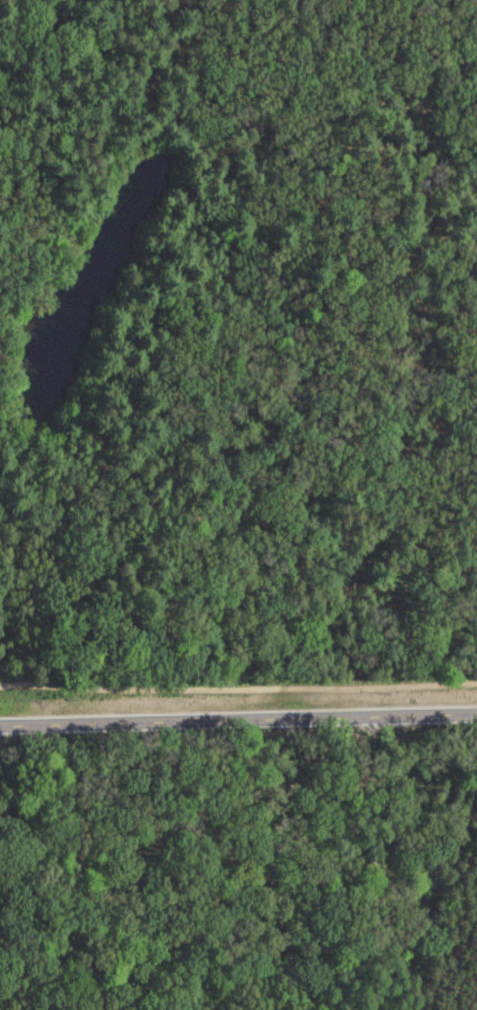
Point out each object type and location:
road: (238, 718)
road: (198, 904)

